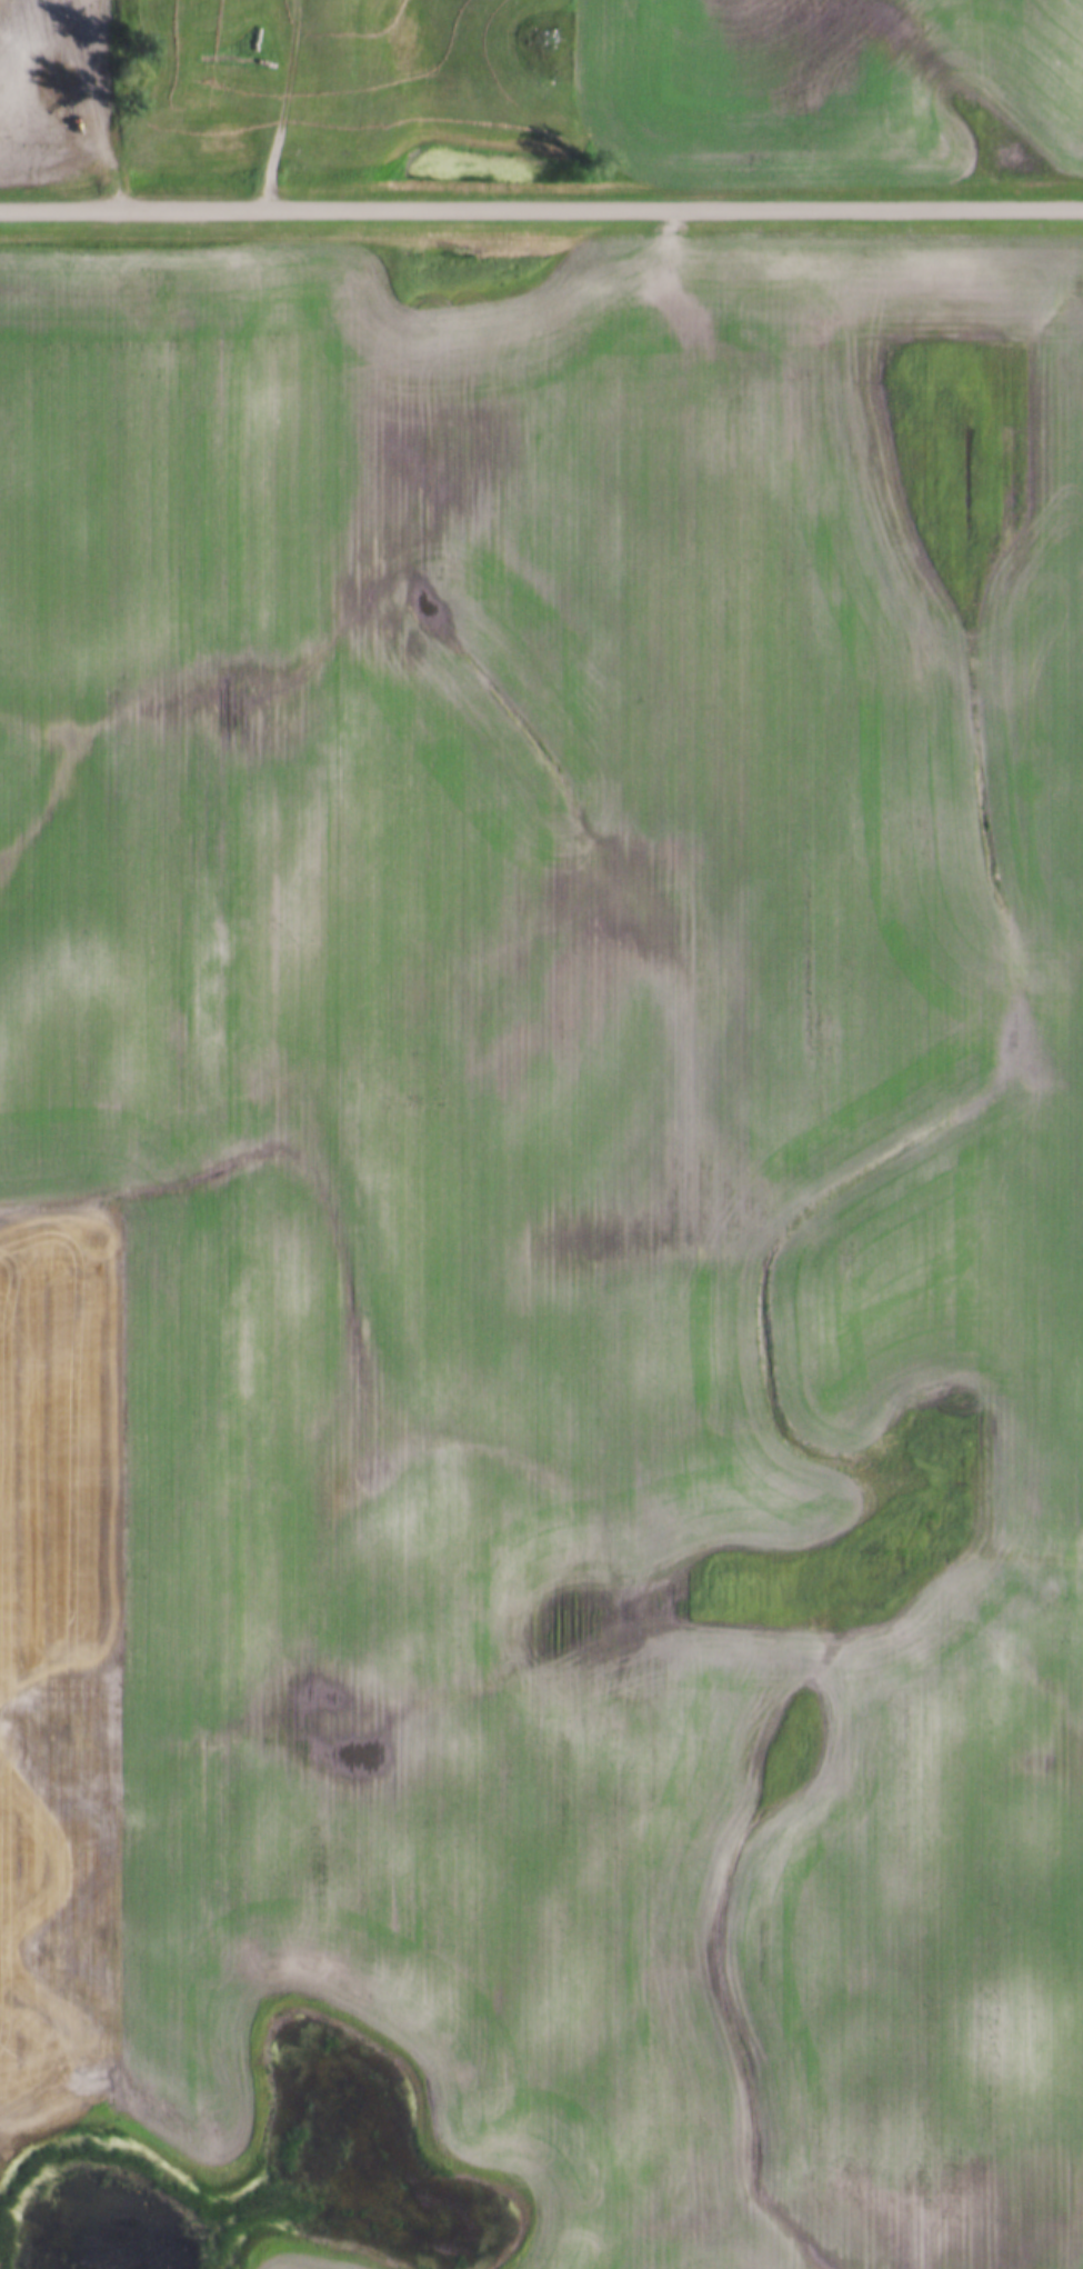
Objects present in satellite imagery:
road: (284, 103)
road: (541, 206)

